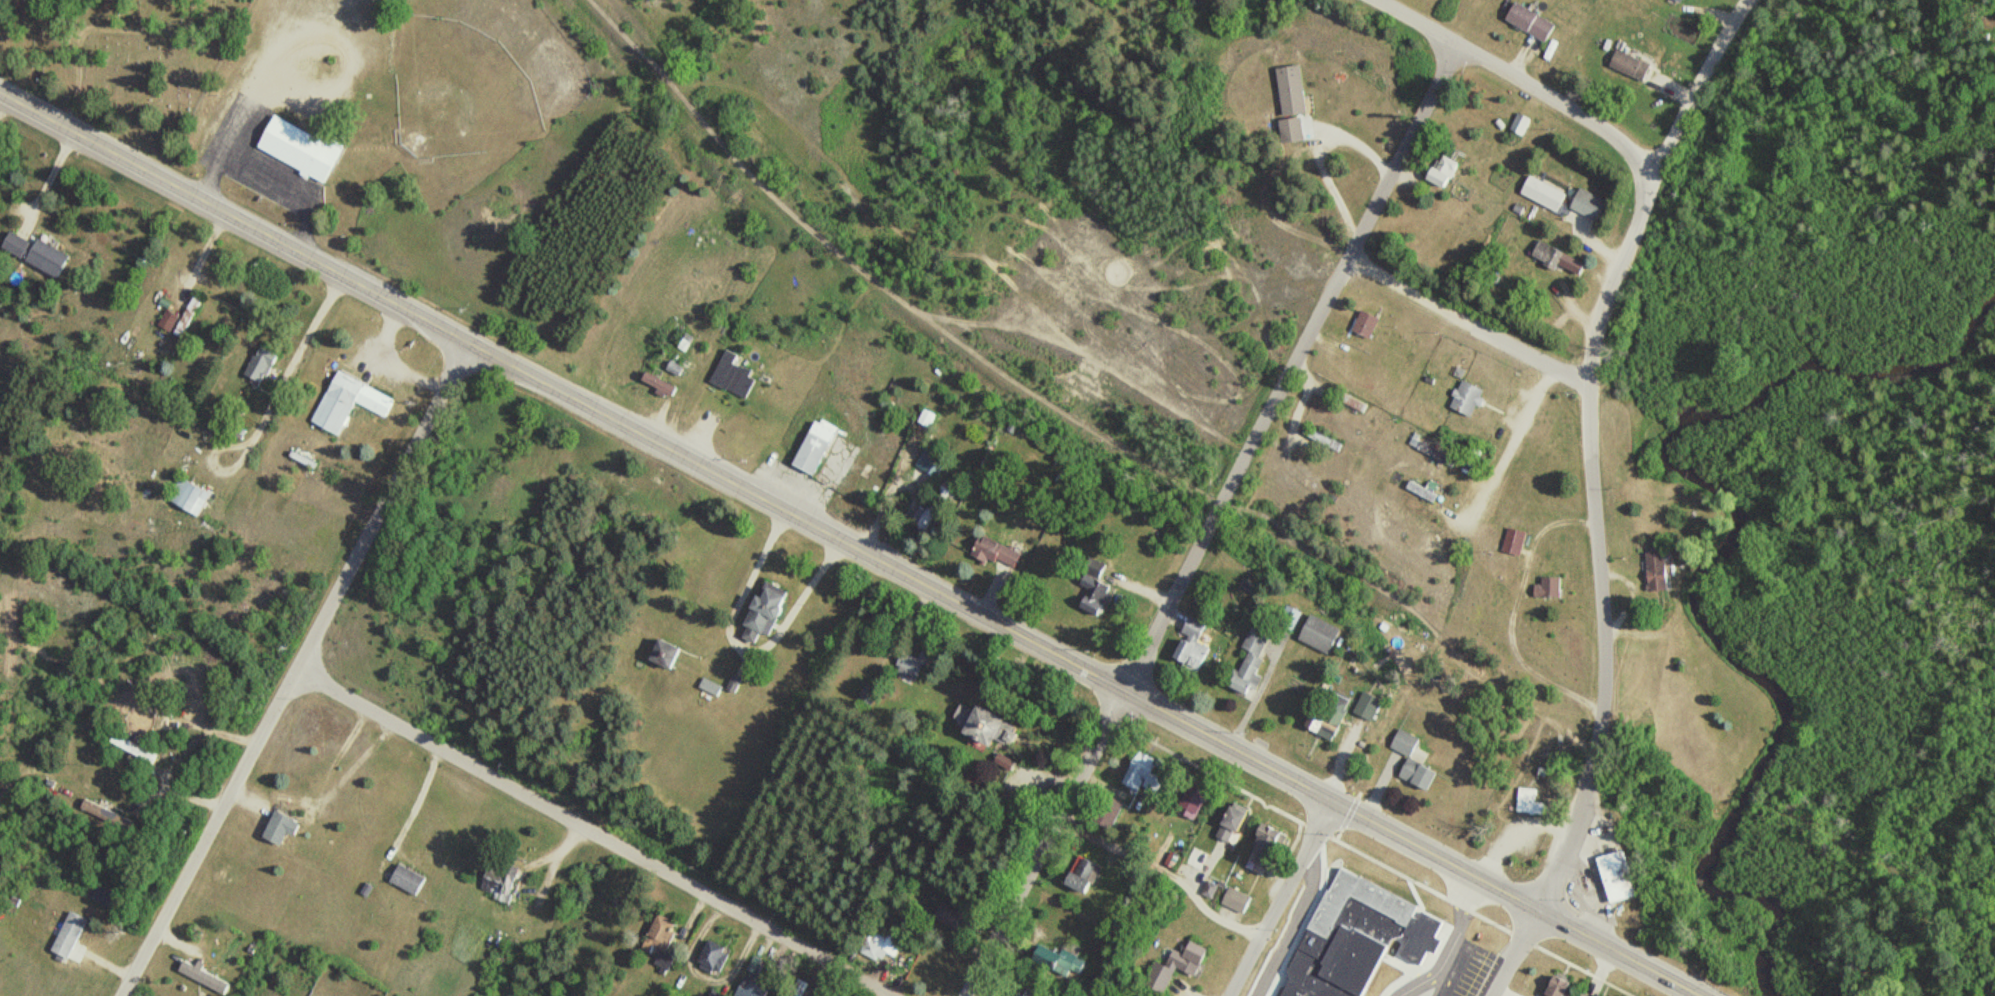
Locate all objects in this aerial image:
building: (1683, 0)
road: (1721, 19)
road: (1740, 19)
building: (1532, 21)
park: (121, 56)
building: (1631, 66)
road: (1513, 82)
park: (459, 89)
building: (1292, 91)
building: (1521, 124)
building: (1293, 129)
building: (303, 148)
building: (1446, 171)
building: (1545, 193)
building: (1590, 204)
building: (39, 252)
building: (1558, 258)
road: (877, 284)
building: (169, 320)
road: (1467, 320)
building: (1368, 324)
building: (262, 365)
road: (1288, 370)
building: (735, 376)
building: (662, 385)
building: (1468, 398)
building: (348, 402)
building: (1355, 403)
building: (1323, 439)
building: (818, 447)
building: (1438, 453)
road: (1590, 463)
building: (190, 496)
building: (932, 508)
building: (1517, 541)
road: (850, 546)
building: (999, 553)
river: (1701, 560)
building: (1661, 572)
building: (1550, 587)
building: (1096, 590)
building: (768, 612)
building: (1323, 634)
building: (1194, 644)
building: (667, 654)
building: (1253, 661)
building: (913, 664)
road: (297, 671)
building: (1371, 706)
building: (1330, 715)
building: (989, 726)
building: (1407, 743)
building: (134, 748)
building: (1146, 775)
building: (1420, 775)
building: (1531, 802)
building: (1197, 804)
building: (102, 812)
building: (1234, 825)
building: (283, 828)
road: (596, 833)
road: (1043, 843)
building: (1271, 847)
road: (1595, 873)
building: (1620, 877)
building: (408, 880)
building: (498, 884)
building: (1212, 890)
road: (1281, 898)
building: (1240, 901)
building: (954, 920)
building: (70, 935)
building: (1350, 938)
building: (663, 940)
building: (877, 945)
road: (1513, 952)
building: (715, 958)
building: (1061, 961)
building: (1179, 968)
building: (206, 978)
building: (1559, 986)
building: (752, 989)
building: (800, 989)
building: (1015, 993)
building: (1585, 995)

